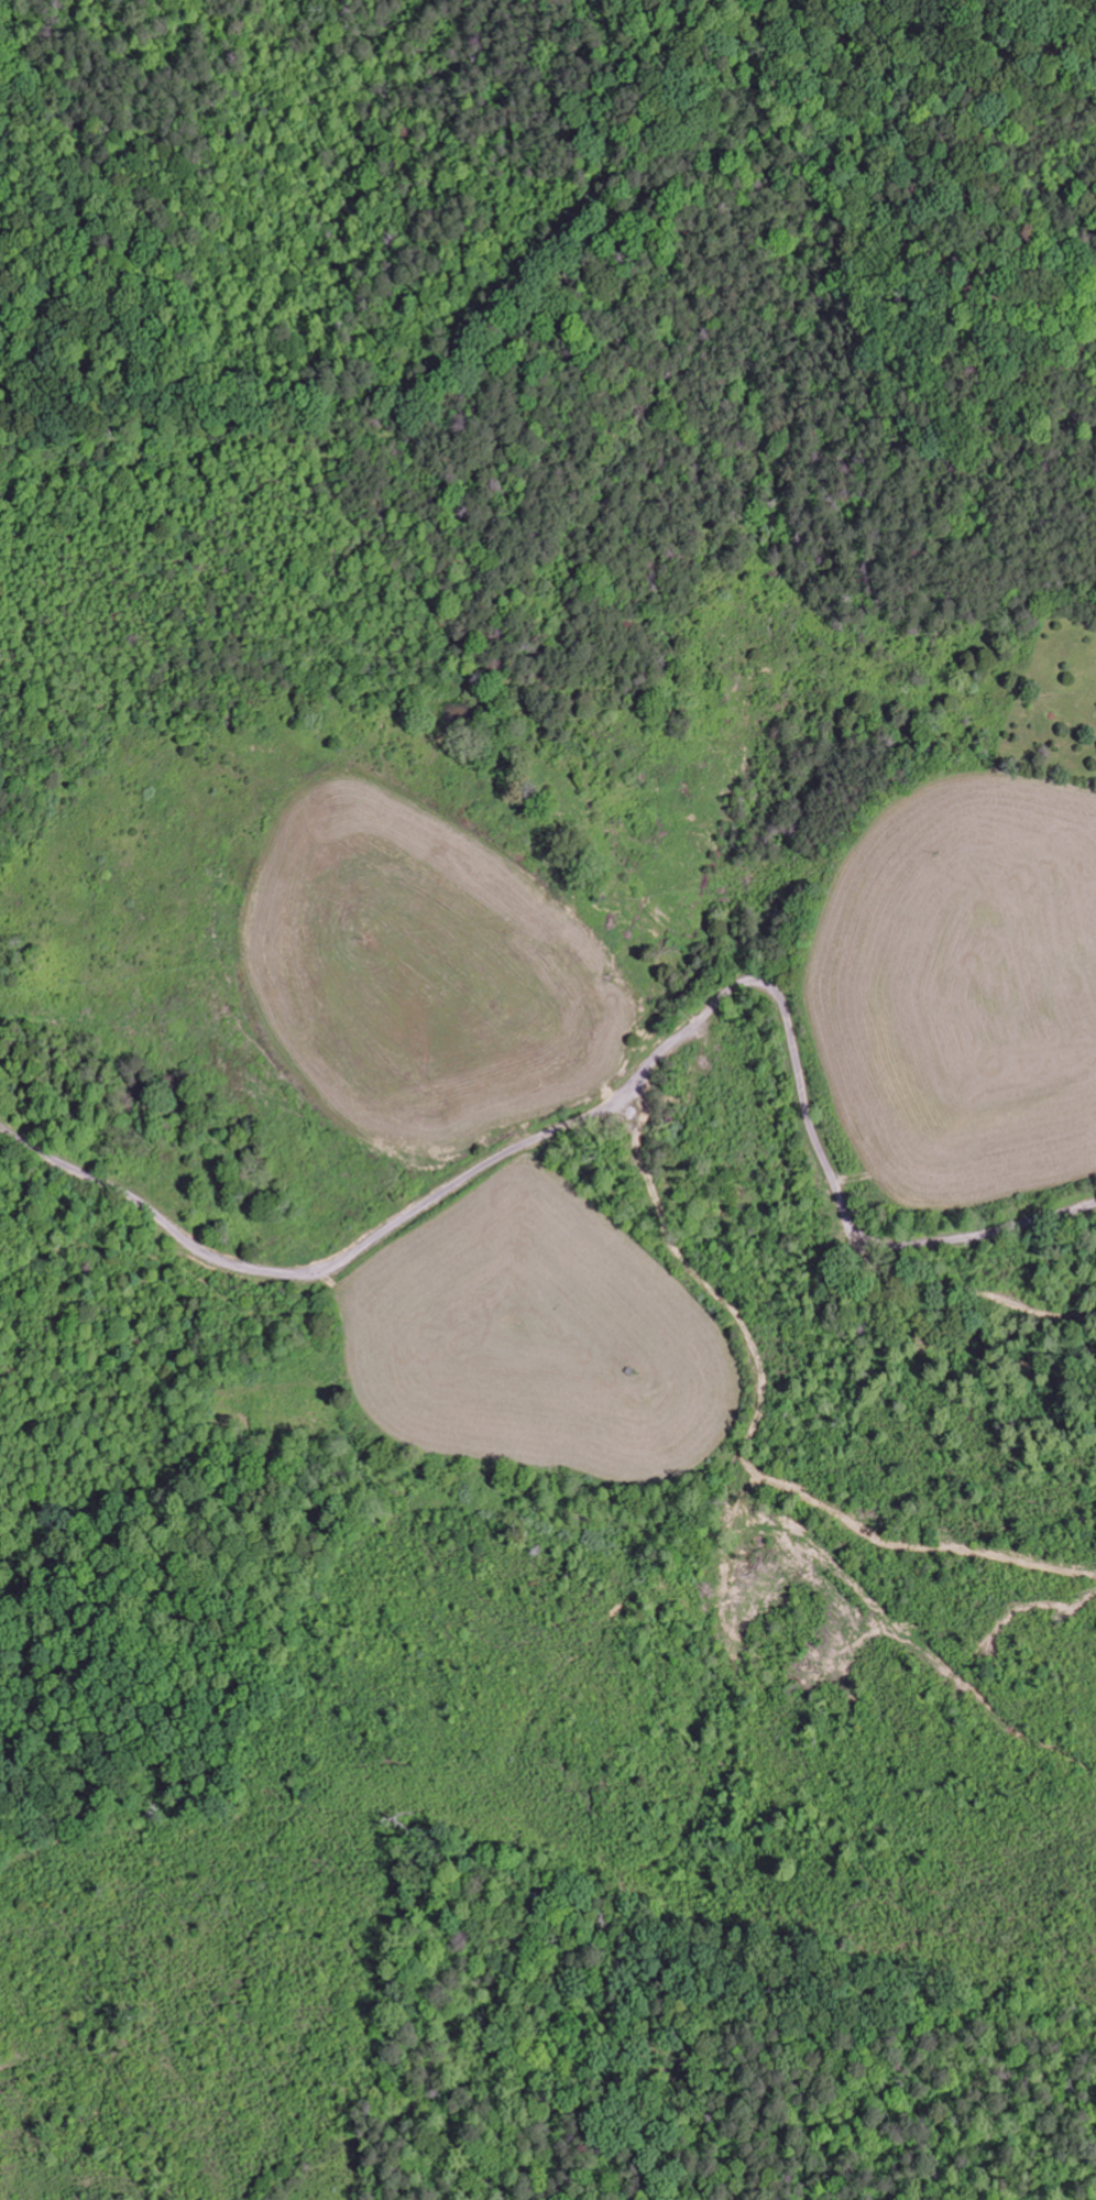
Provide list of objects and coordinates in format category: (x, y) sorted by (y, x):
road: (798, 1073)
road: (387, 1226)
road: (951, 1238)

